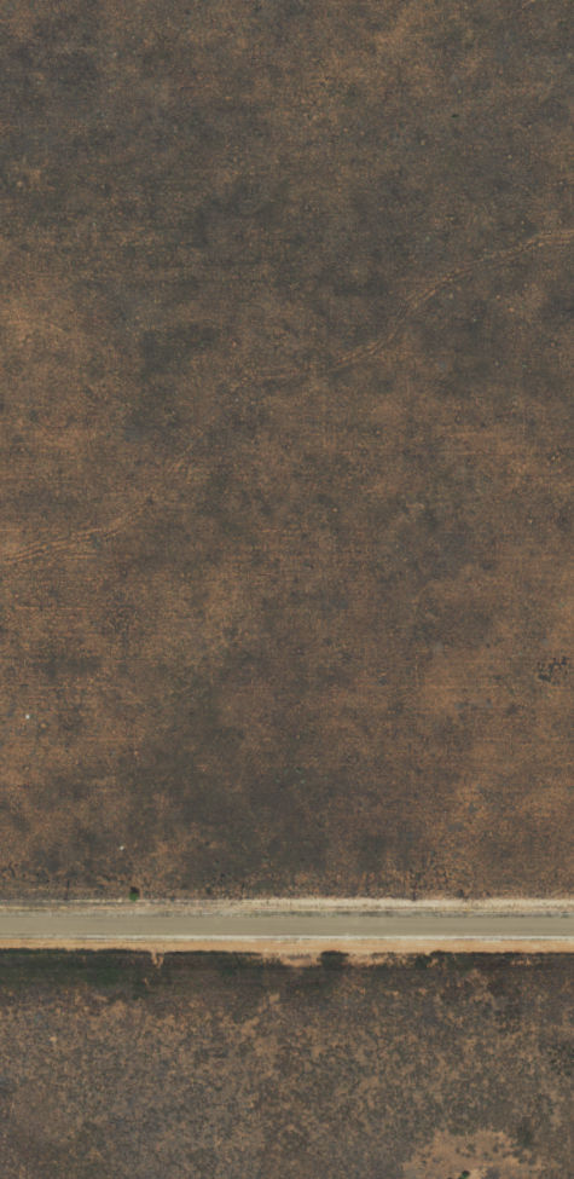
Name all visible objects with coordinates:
road: (286, 898)

